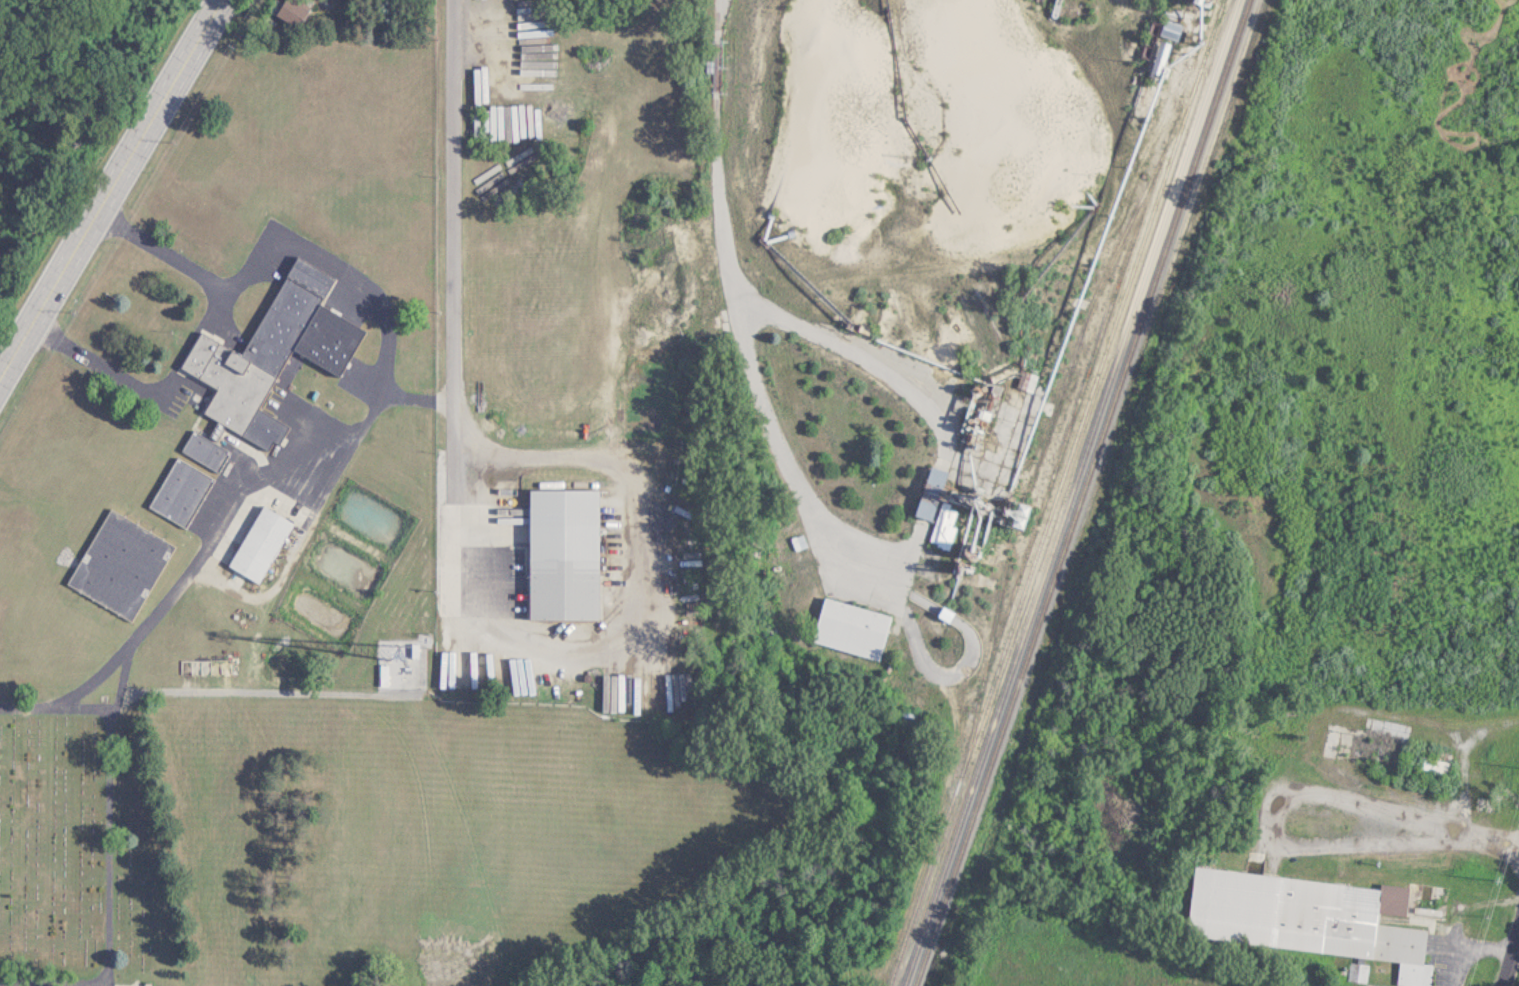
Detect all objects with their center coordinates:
building: (292, 13)
building: (1172, 22)
building: (1160, 54)
road: (1070, 56)
road: (451, 79)
road: (110, 188)
road: (217, 312)
road: (454, 317)
building: (273, 353)
road: (200, 354)
road: (116, 374)
building: (1026, 381)
road: (364, 424)
building: (205, 451)
road: (267, 471)
building: (181, 492)
building: (930, 493)
railway: (1070, 493)
railway: (1082, 493)
building: (944, 526)
building: (799, 542)
building: (260, 544)
building: (563, 554)
building: (120, 564)
building: (851, 629)
road: (630, 648)
building: (218, 667)
road: (121, 684)
road: (271, 704)
road: (50, 719)
road: (1466, 759)
building: (1434, 766)
road: (1275, 823)
road: (1468, 834)
park: (458, 842)
road: (102, 852)
building: (1308, 918)
road: (1512, 963)
building: (1359, 971)

